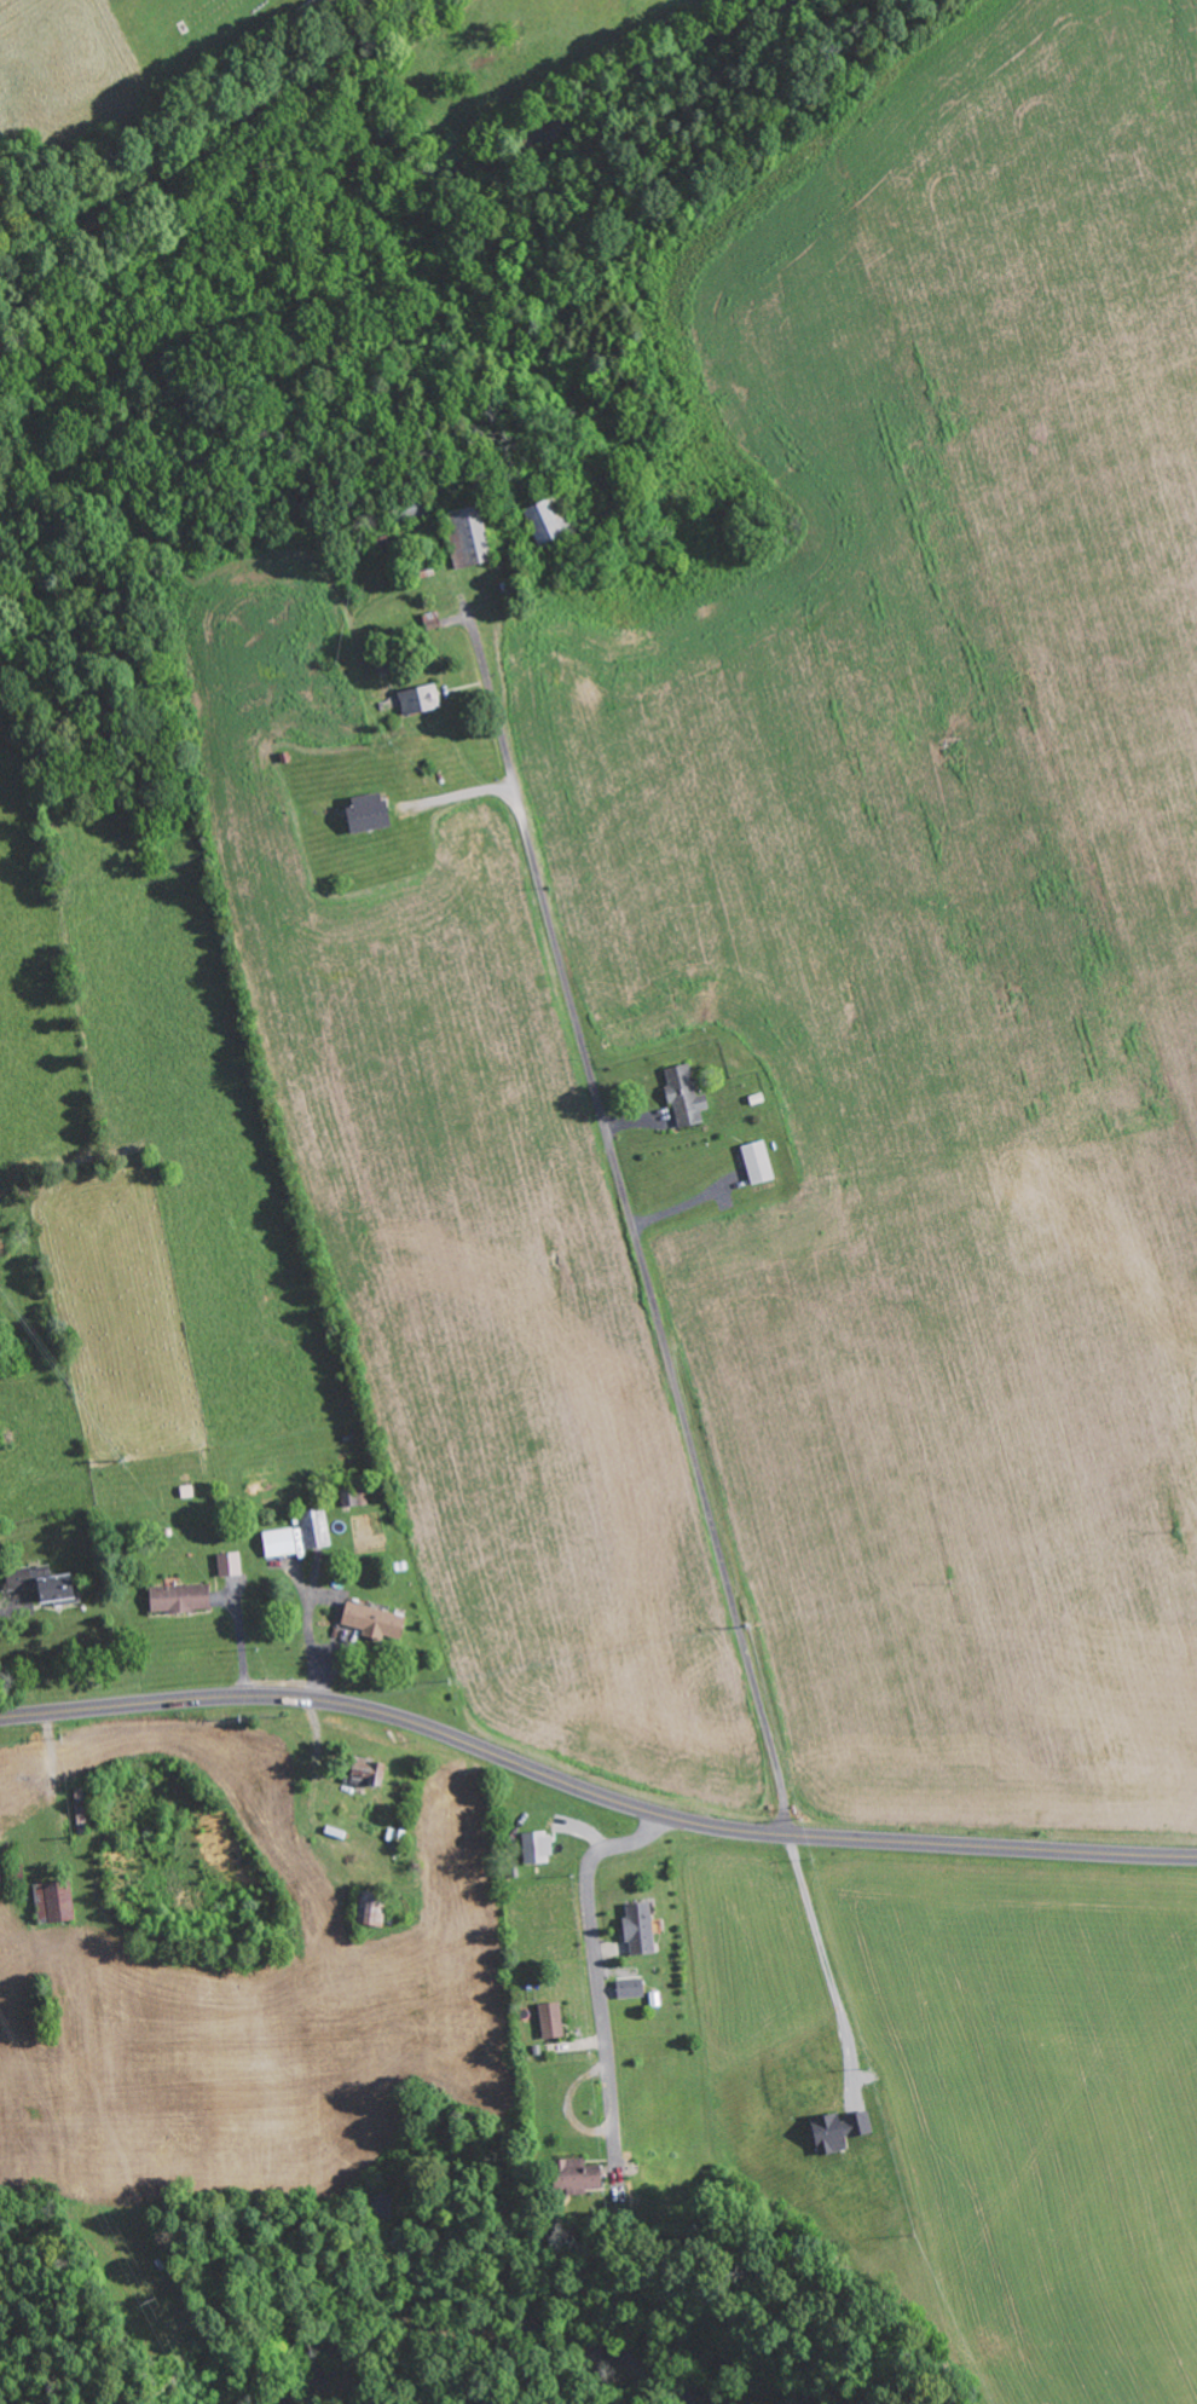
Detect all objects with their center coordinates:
building: (547, 519)
building: (468, 536)
building: (420, 699)
building: (368, 813)
building: (684, 1097)
building: (758, 1162)
road: (632, 1233)
building: (349, 1497)
building: (313, 1527)
building: (279, 1541)
building: (230, 1562)
building: (54, 1585)
building: (179, 1597)
building: (372, 1619)
building: (368, 1770)
road: (592, 1792)
building: (537, 1847)
building: (56, 1901)
building: (371, 1908)
building: (640, 1928)
road: (595, 1966)
building: (631, 1988)
building: (551, 2019)
building: (839, 2129)
building: (573, 2175)

